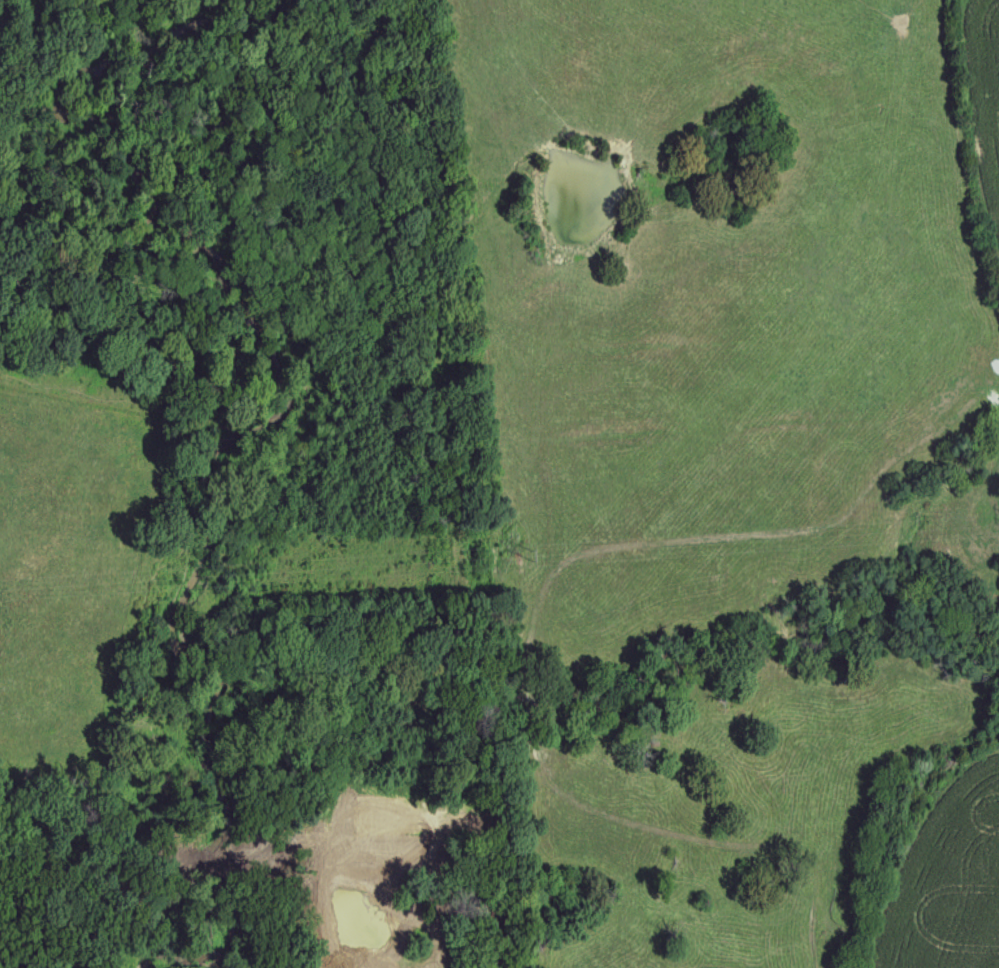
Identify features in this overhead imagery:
power tower: (535, 555)

